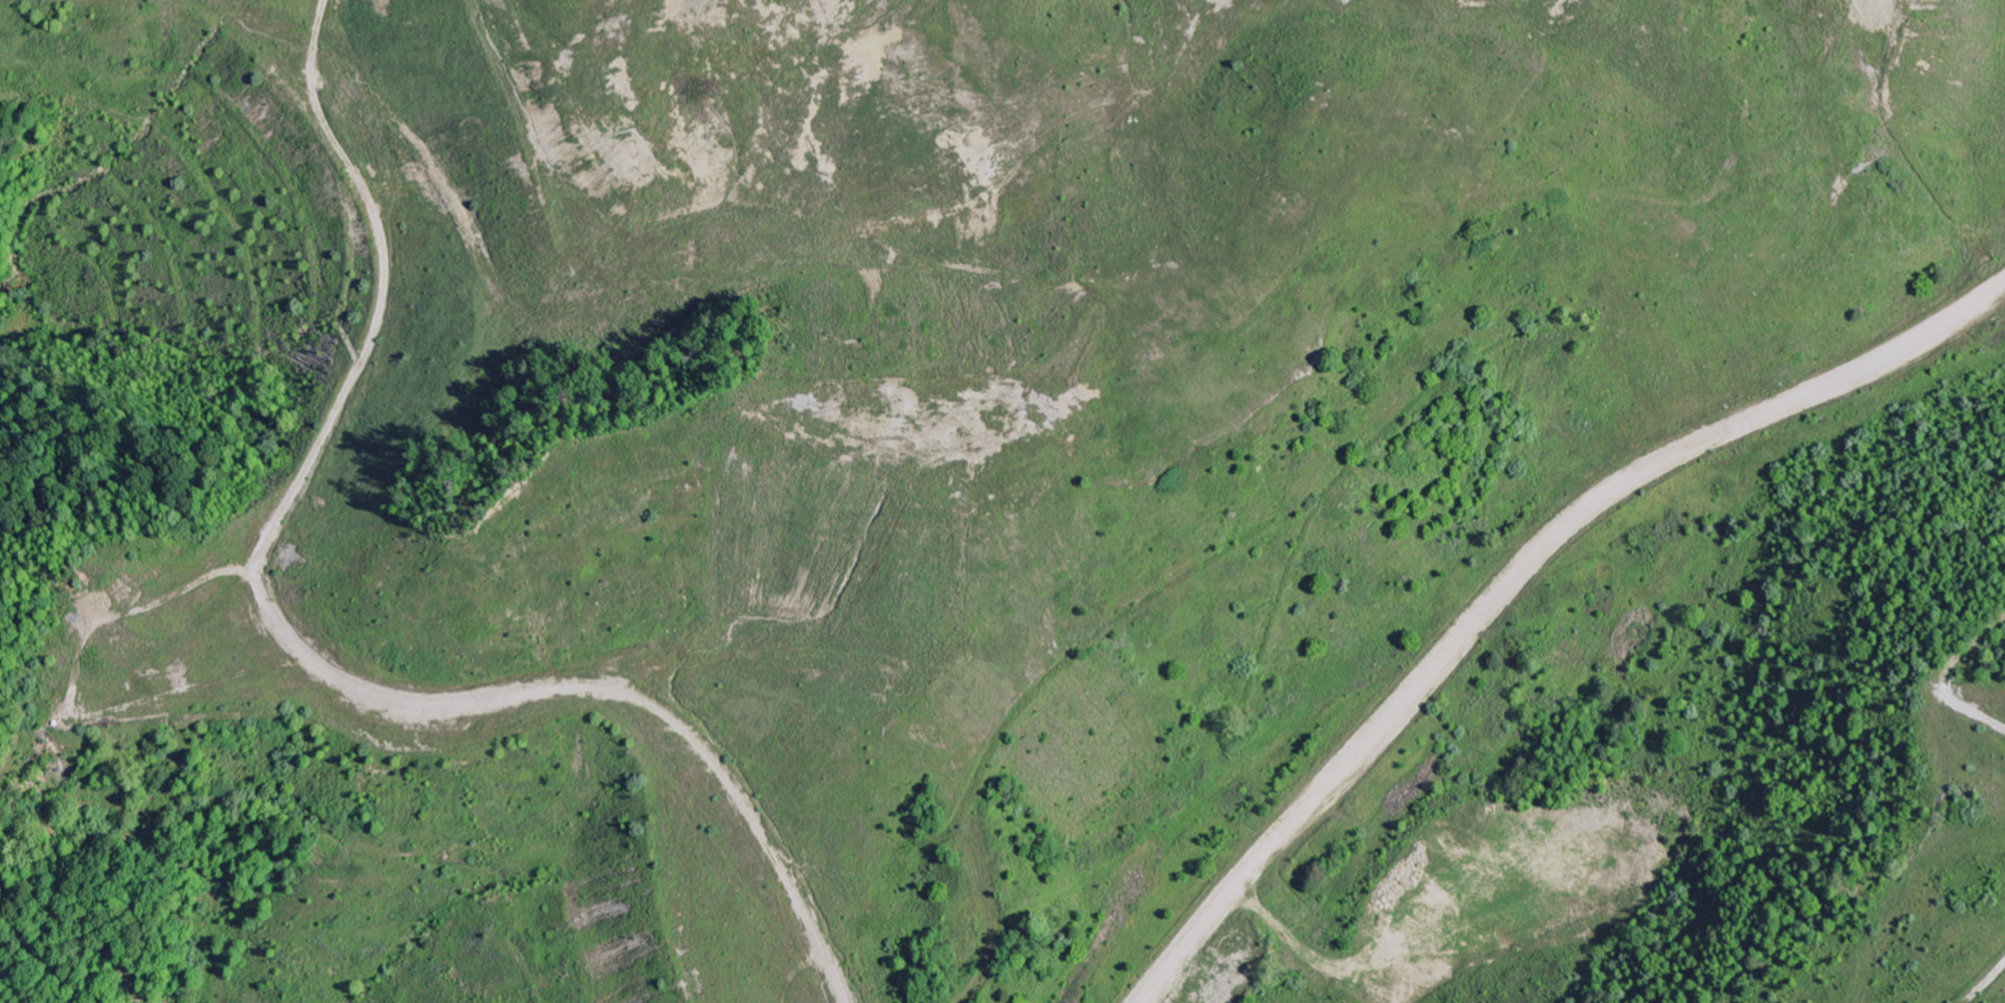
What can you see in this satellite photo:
road: (1517, 570)

